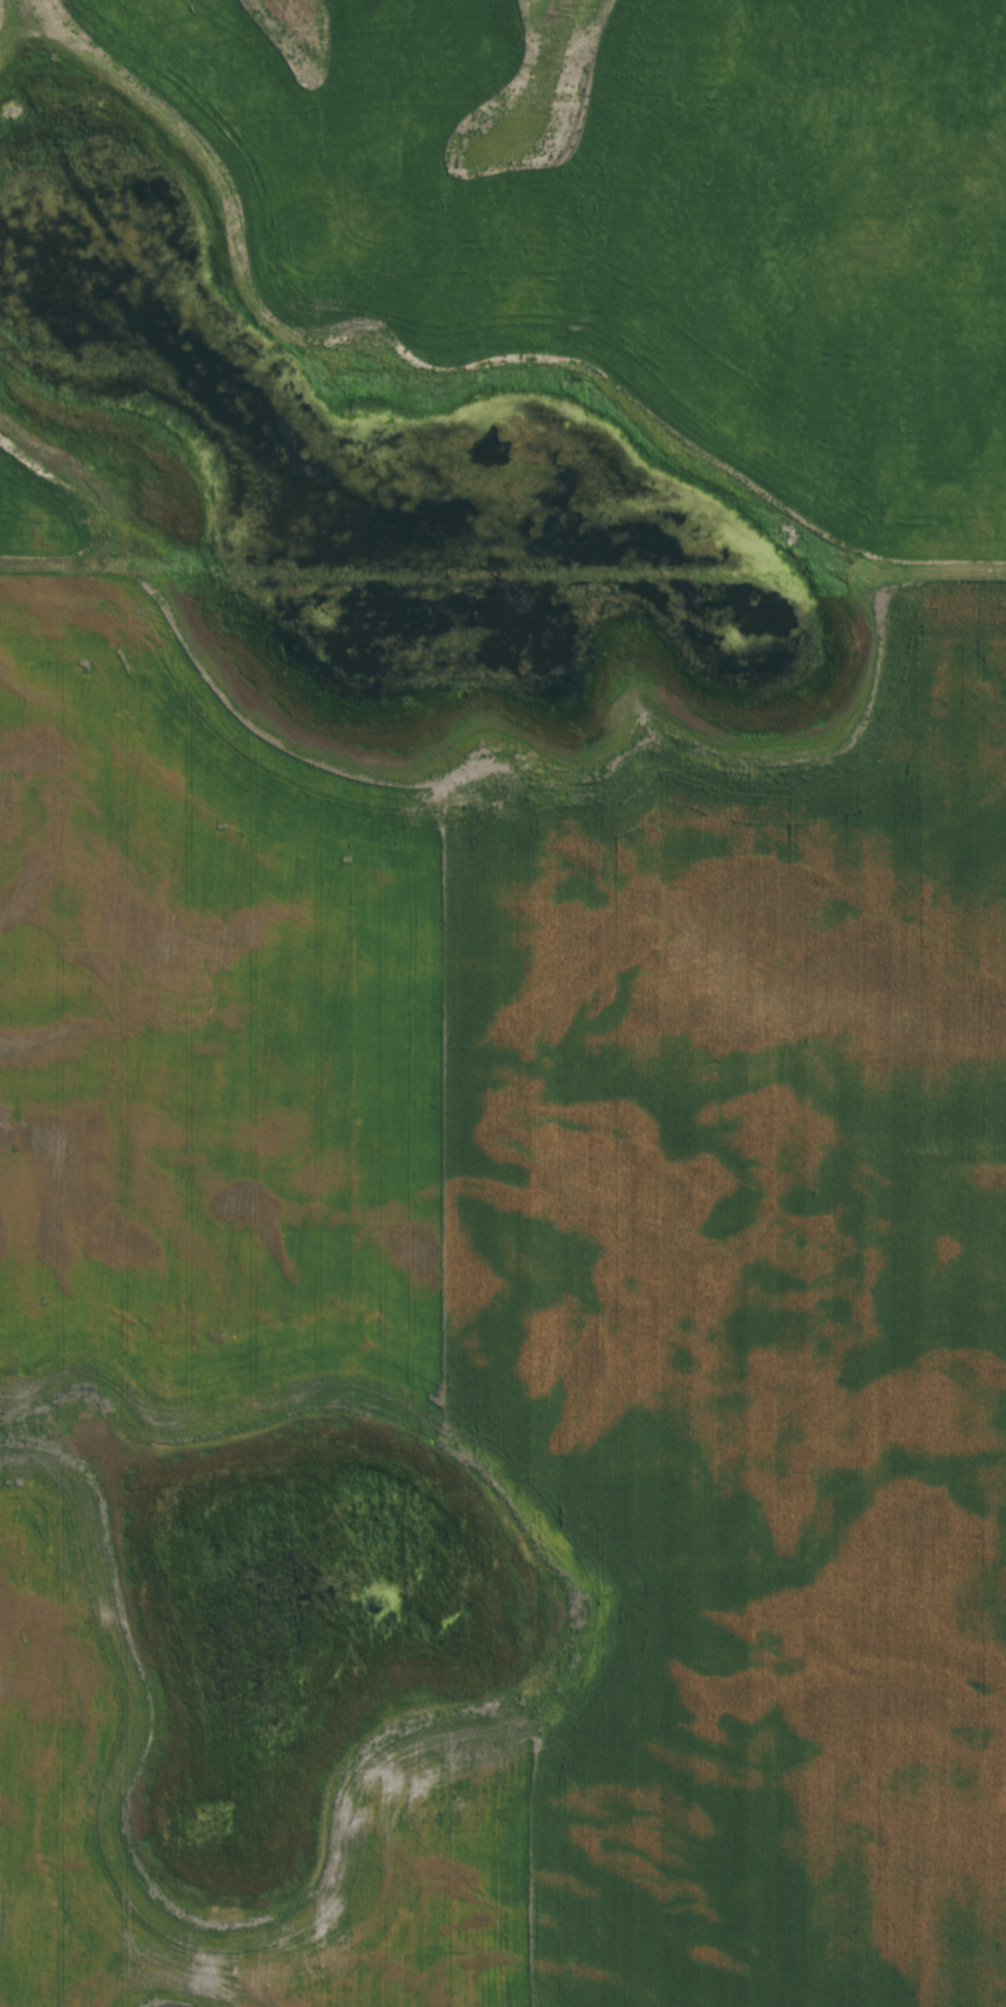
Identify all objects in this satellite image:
road: (523, 804)

